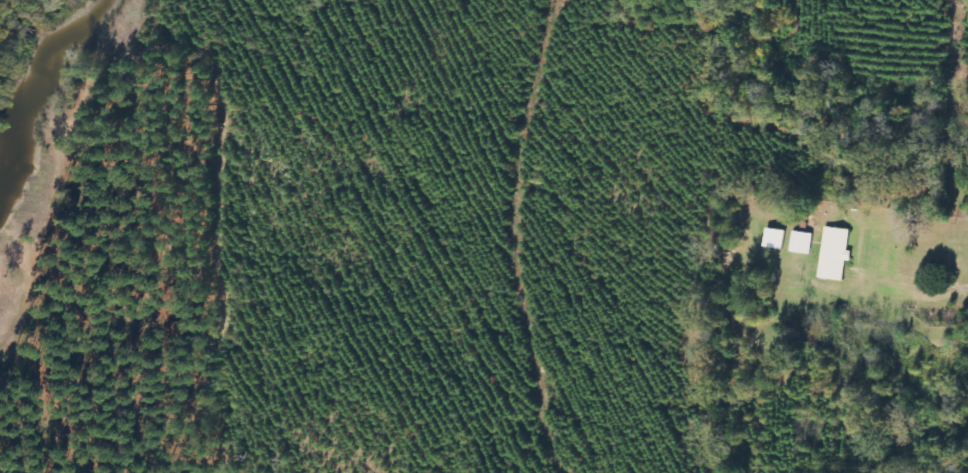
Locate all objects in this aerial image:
building: (774, 239)
building: (801, 243)
building: (834, 254)

